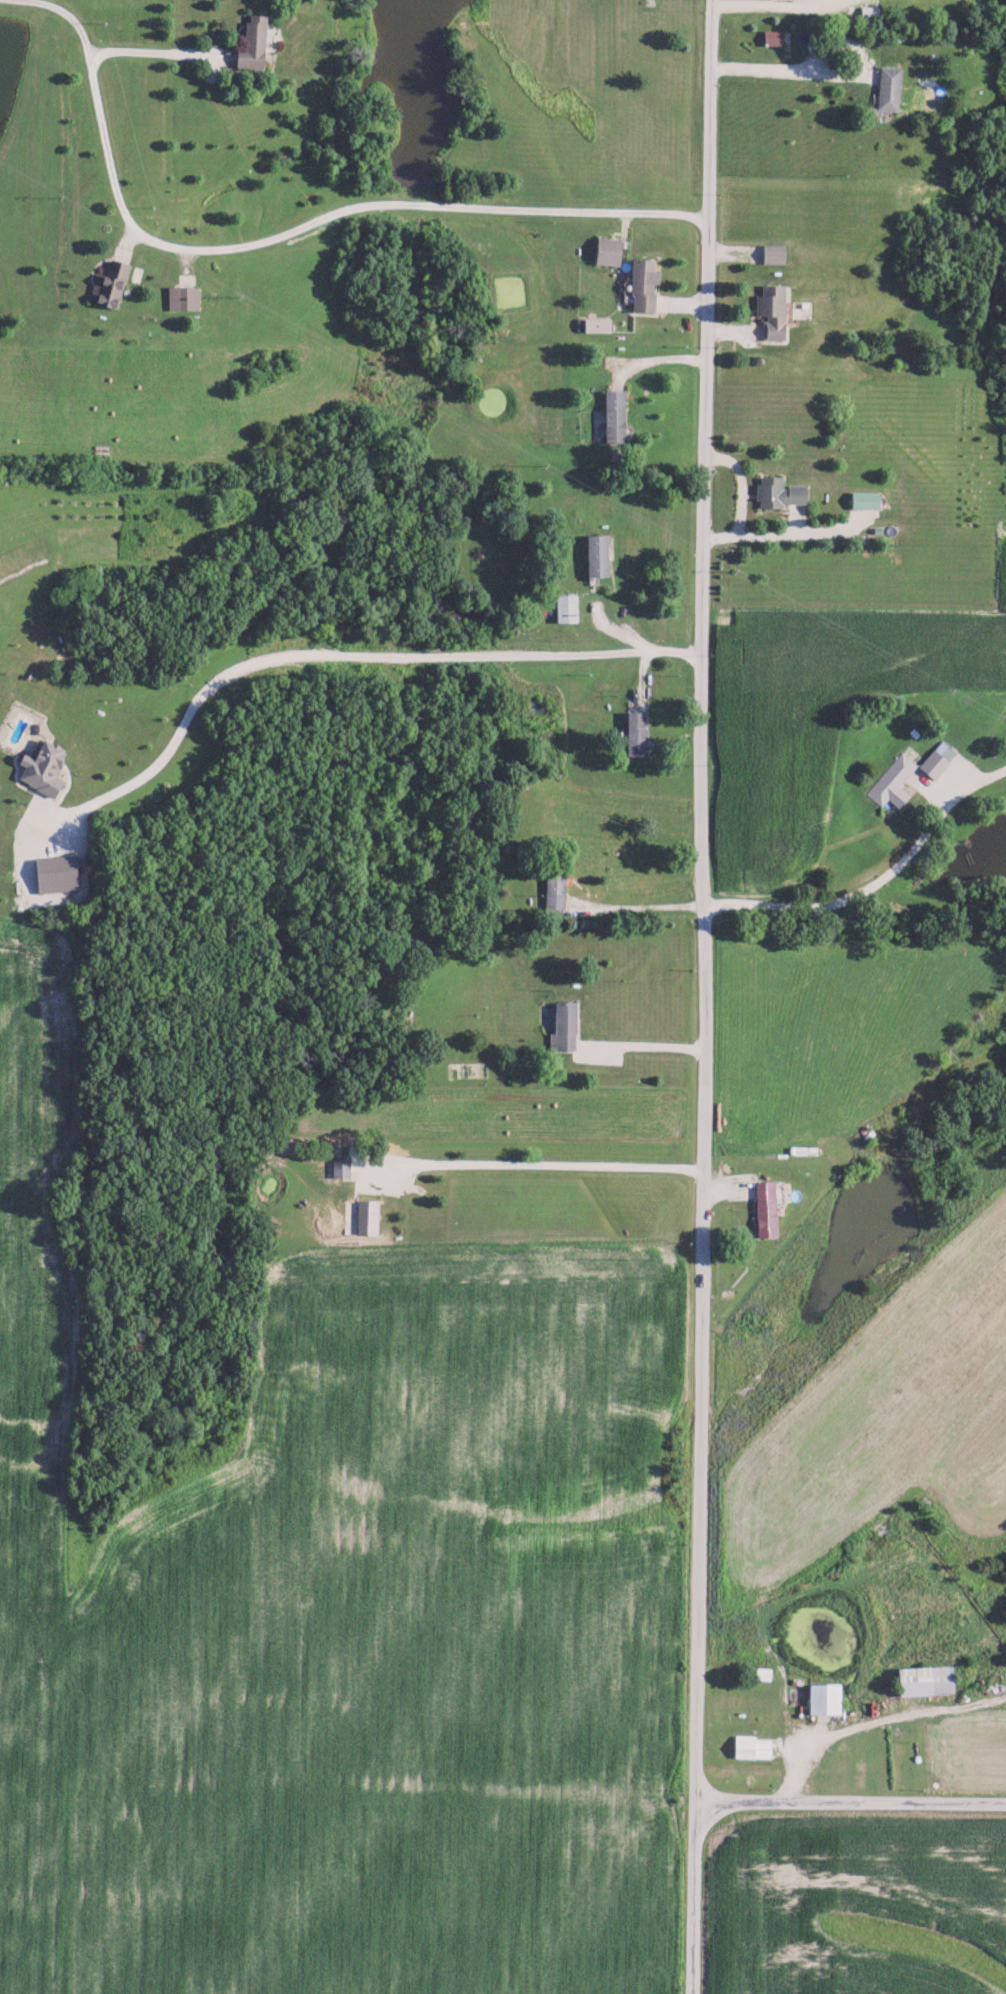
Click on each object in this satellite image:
road: (722, 1)
building: (769, 37)
building: (254, 40)
road: (161, 45)
road: (794, 59)
building: (885, 88)
road: (281, 231)
building: (605, 250)
building: (770, 253)
building: (107, 284)
building: (640, 285)
building: (180, 298)
building: (593, 324)
building: (611, 416)
building: (776, 492)
building: (862, 499)
building: (594, 555)
building: (563, 608)
building: (635, 734)
building: (38, 767)
building: (891, 781)
building: (51, 874)
building: (552, 886)
road: (799, 901)
road: (707, 997)
building: (562, 1026)
road: (645, 1043)
road: (533, 1164)
building: (339, 1165)
building: (762, 1208)
building: (366, 1216)
building: (760, 1672)
building: (920, 1679)
building: (821, 1698)
road: (852, 1802)

